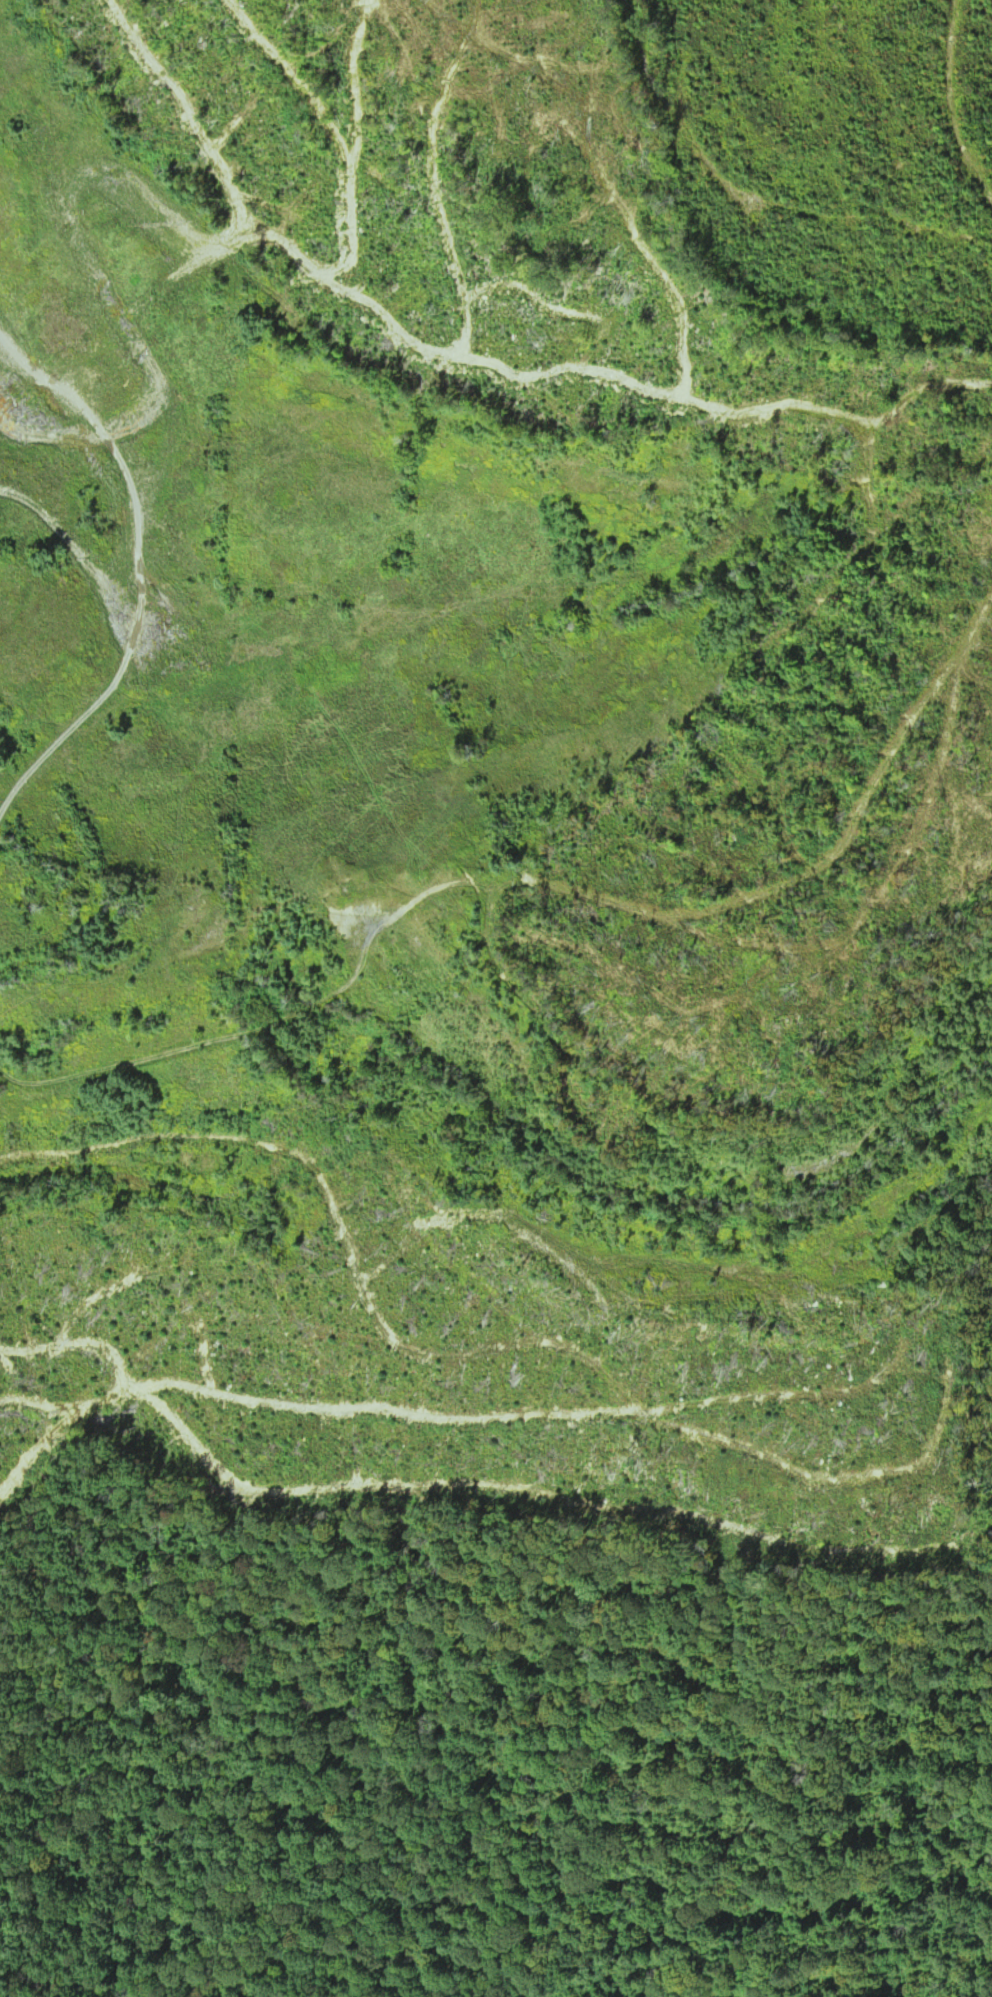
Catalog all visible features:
road: (273, 557)
road: (503, 1147)

